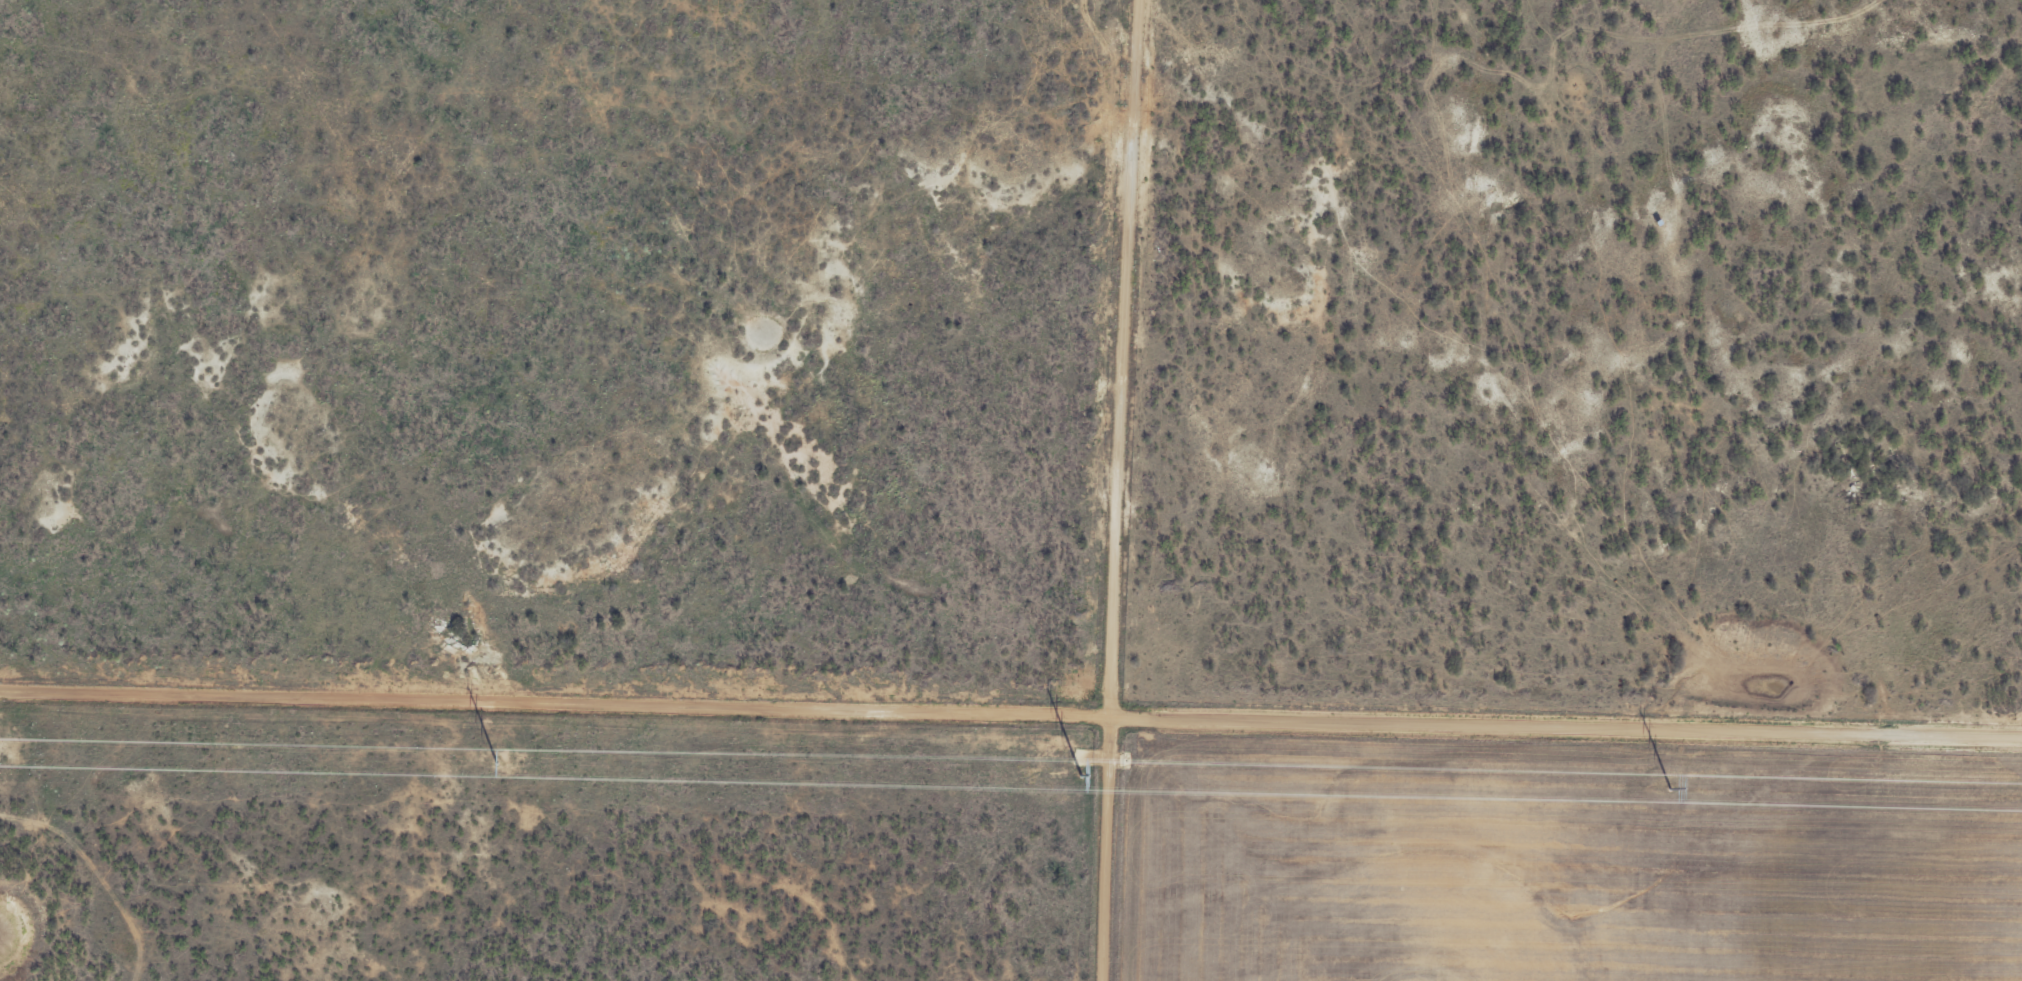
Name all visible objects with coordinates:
road: (914, 123)
road: (1119, 490)
road: (1010, 713)
power tower: (498, 761)
power tower: (1082, 774)
power tower: (1670, 787)

